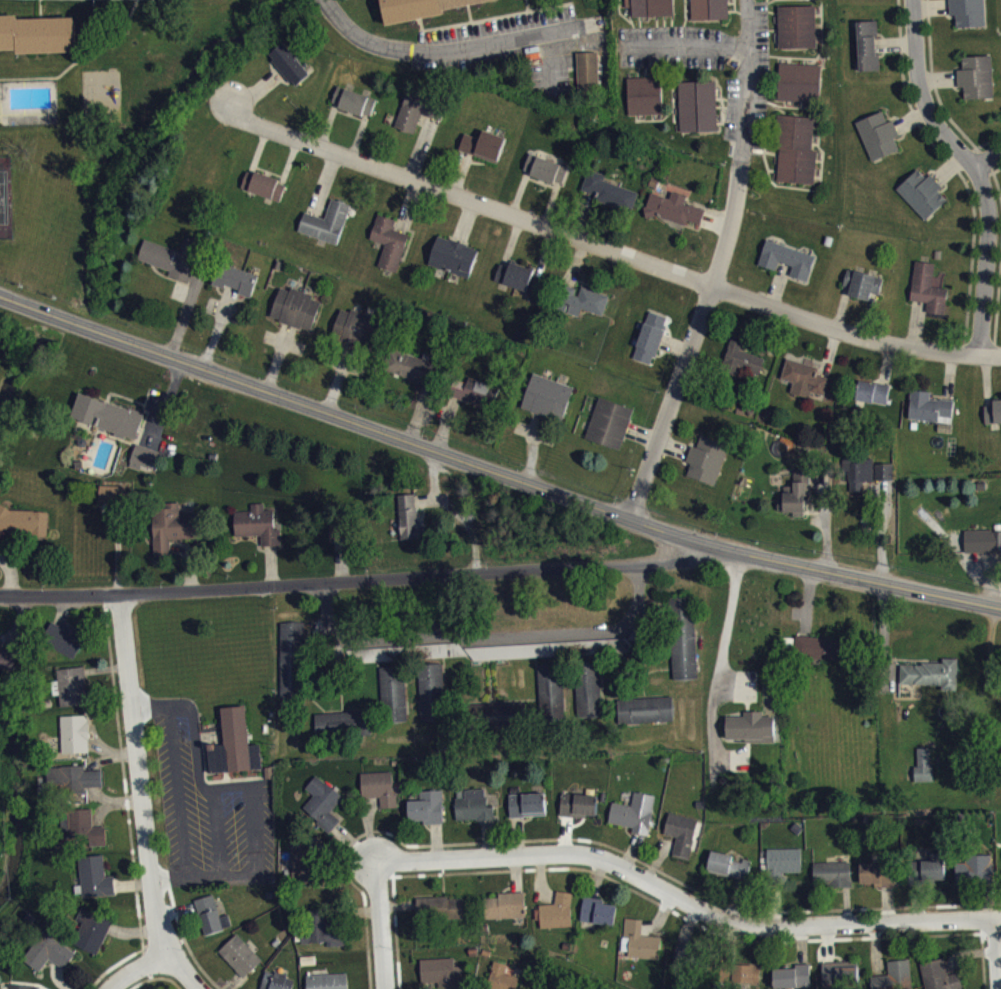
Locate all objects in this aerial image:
building: (770, 0)
road: (528, 5)
road: (41, 8)
building: (417, 8)
building: (651, 11)
road: (469, 12)
building: (711, 13)
building: (970, 16)
road: (488, 18)
building: (38, 33)
building: (798, 33)
parking lot: (506, 47)
road: (681, 48)
building: (869, 52)
road: (448, 54)
road: (81, 60)
road: (551, 65)
building: (291, 71)
building: (586, 71)
building: (978, 84)
building: (801, 89)
road: (747, 90)
building: (646, 102)
building: (355, 108)
building: (699, 113)
building: (419, 117)
building: (880, 142)
building: (485, 152)
building: (798, 157)
road: (988, 160)
road: (976, 169)
building: (547, 175)
building: (264, 192)
park: (6, 196)
building: (609, 198)
building: (923, 200)
building: (676, 215)
building: (327, 229)
building: (390, 249)
road: (607, 250)
building: (454, 263)
building: (173, 264)
building: (788, 266)
building: (518, 283)
building: (238, 286)
building: (864, 292)
building: (929, 296)
building: (586, 307)
building: (297, 315)
building: (357, 336)
building: (651, 345)
road: (688, 350)
building: (744, 365)
building: (414, 374)
building: (805, 385)
building: (480, 399)
building: (874, 400)
building: (552, 405)
building: (108, 414)
building: (931, 414)
building: (994, 419)
building: (611, 431)
building: (142, 456)
building: (146, 464)
building: (707, 467)
road: (494, 472)
building: (868, 481)
building: (112, 492)
building: (114, 501)
building: (796, 506)
building: (408, 517)
building: (23, 523)
building: (257, 523)
building: (171, 526)
building: (338, 539)
building: (983, 548)
road: (370, 579)
road: (728, 626)
road: (488, 634)
building: (64, 645)
building: (684, 651)
building: (818, 654)
building: (549, 656)
building: (8, 666)
building: (292, 666)
building: (932, 681)
building: (74, 693)
building: (589, 697)
building: (552, 700)
building: (647, 717)
building: (751, 734)
building: (77, 741)
building: (237, 751)
building: (924, 773)
building: (74, 787)
building: (381, 794)
road: (145, 803)
building: (324, 810)
building: (527, 811)
building: (474, 812)
building: (579, 812)
building: (429, 814)
building: (635, 820)
building: (86, 836)
building: (682, 840)
building: (306, 868)
building: (785, 868)
building: (728, 872)
building: (974, 877)
building: (928, 878)
building: (833, 880)
building: (877, 881)
building: (97, 884)
road: (686, 897)
building: (508, 913)
building: (441, 915)
building: (557, 919)
building: (598, 919)
road: (999, 920)
building: (210, 922)
road: (383, 925)
building: (323, 936)
building: (94, 938)
building: (641, 948)
road: (999, 950)
building: (49, 959)
building: (685, 960)
building: (242, 963)
road: (181, 970)
building: (442, 977)
building: (841, 978)
building: (896, 979)
building: (939, 979)
building: (501, 980)
building: (793, 981)
building: (278, 985)
building: (330, 985)

